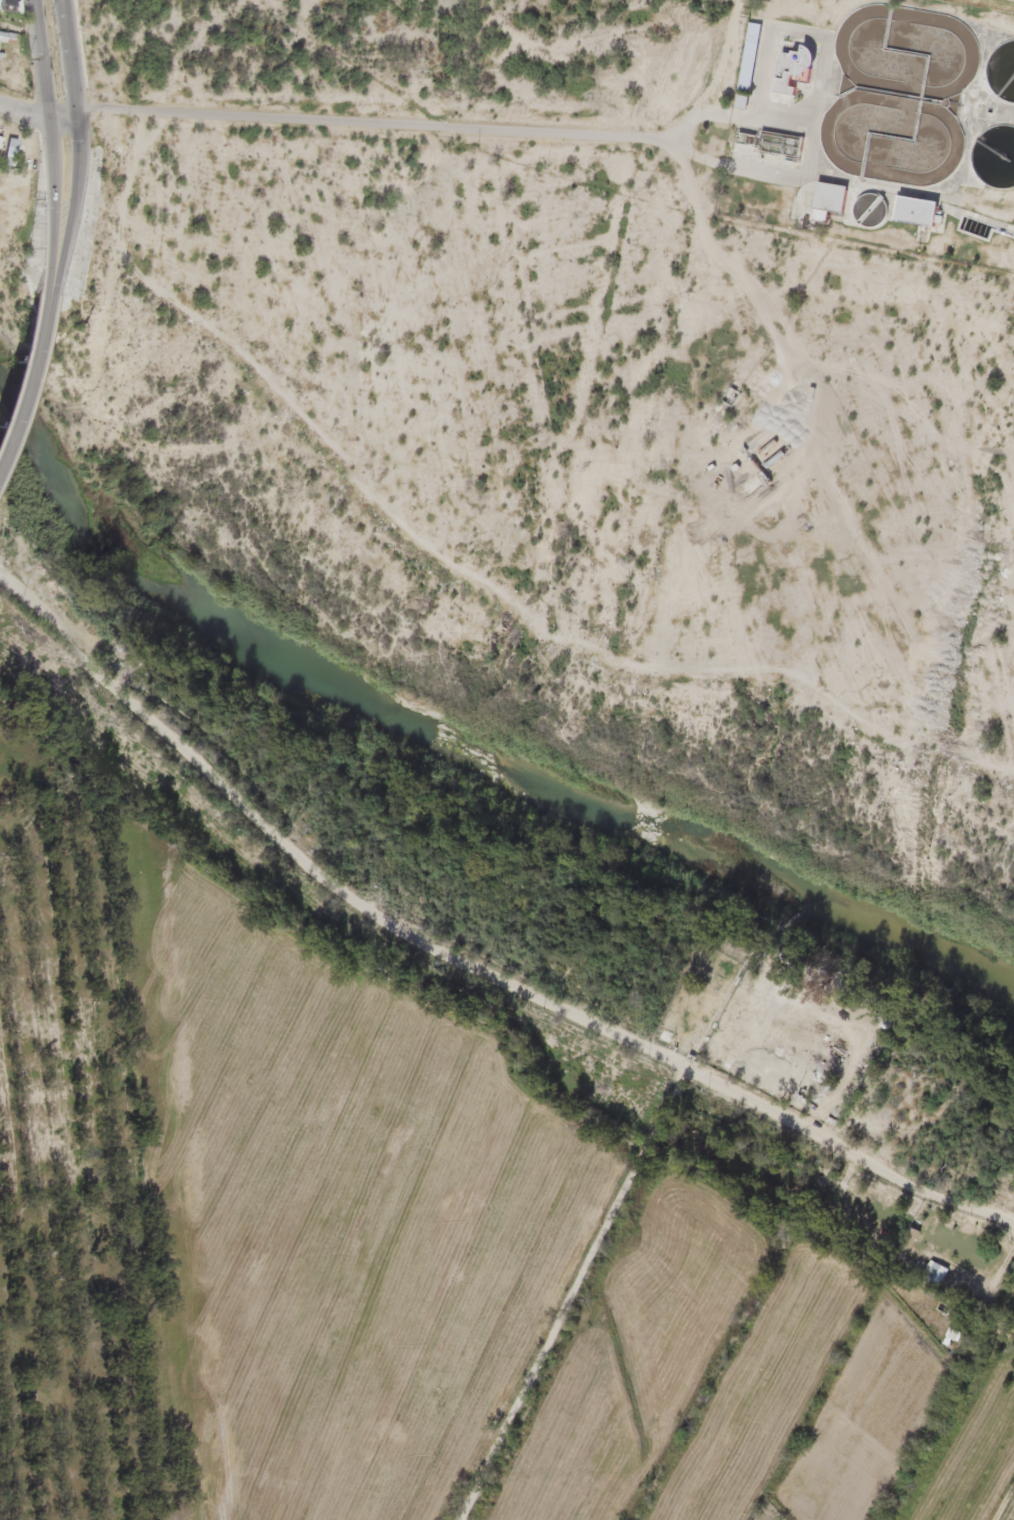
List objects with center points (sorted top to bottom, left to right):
road: (719, 73)
road: (371, 123)
river: (453, 738)
road: (468, 957)
road: (576, 1292)

